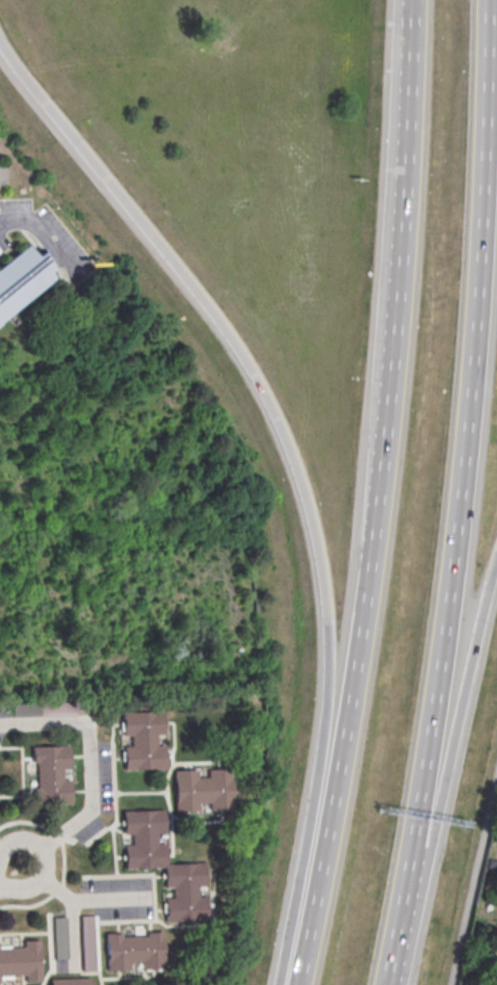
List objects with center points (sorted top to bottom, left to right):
road: (44, 236)
building: (21, 285)
road: (217, 318)
road: (461, 495)
building: (46, 709)
road: (44, 725)
building: (142, 741)
road: (447, 768)
building: (50, 775)
building: (201, 790)
road: (90, 799)
road: (345, 817)
road: (44, 863)
building: (162, 865)
road: (474, 881)
road: (56, 891)
road: (111, 901)
road: (22, 907)
building: (57, 938)
road: (73, 938)
building: (86, 944)
building: (133, 951)
building: (20, 962)
building: (68, 981)
building: (495, 982)

